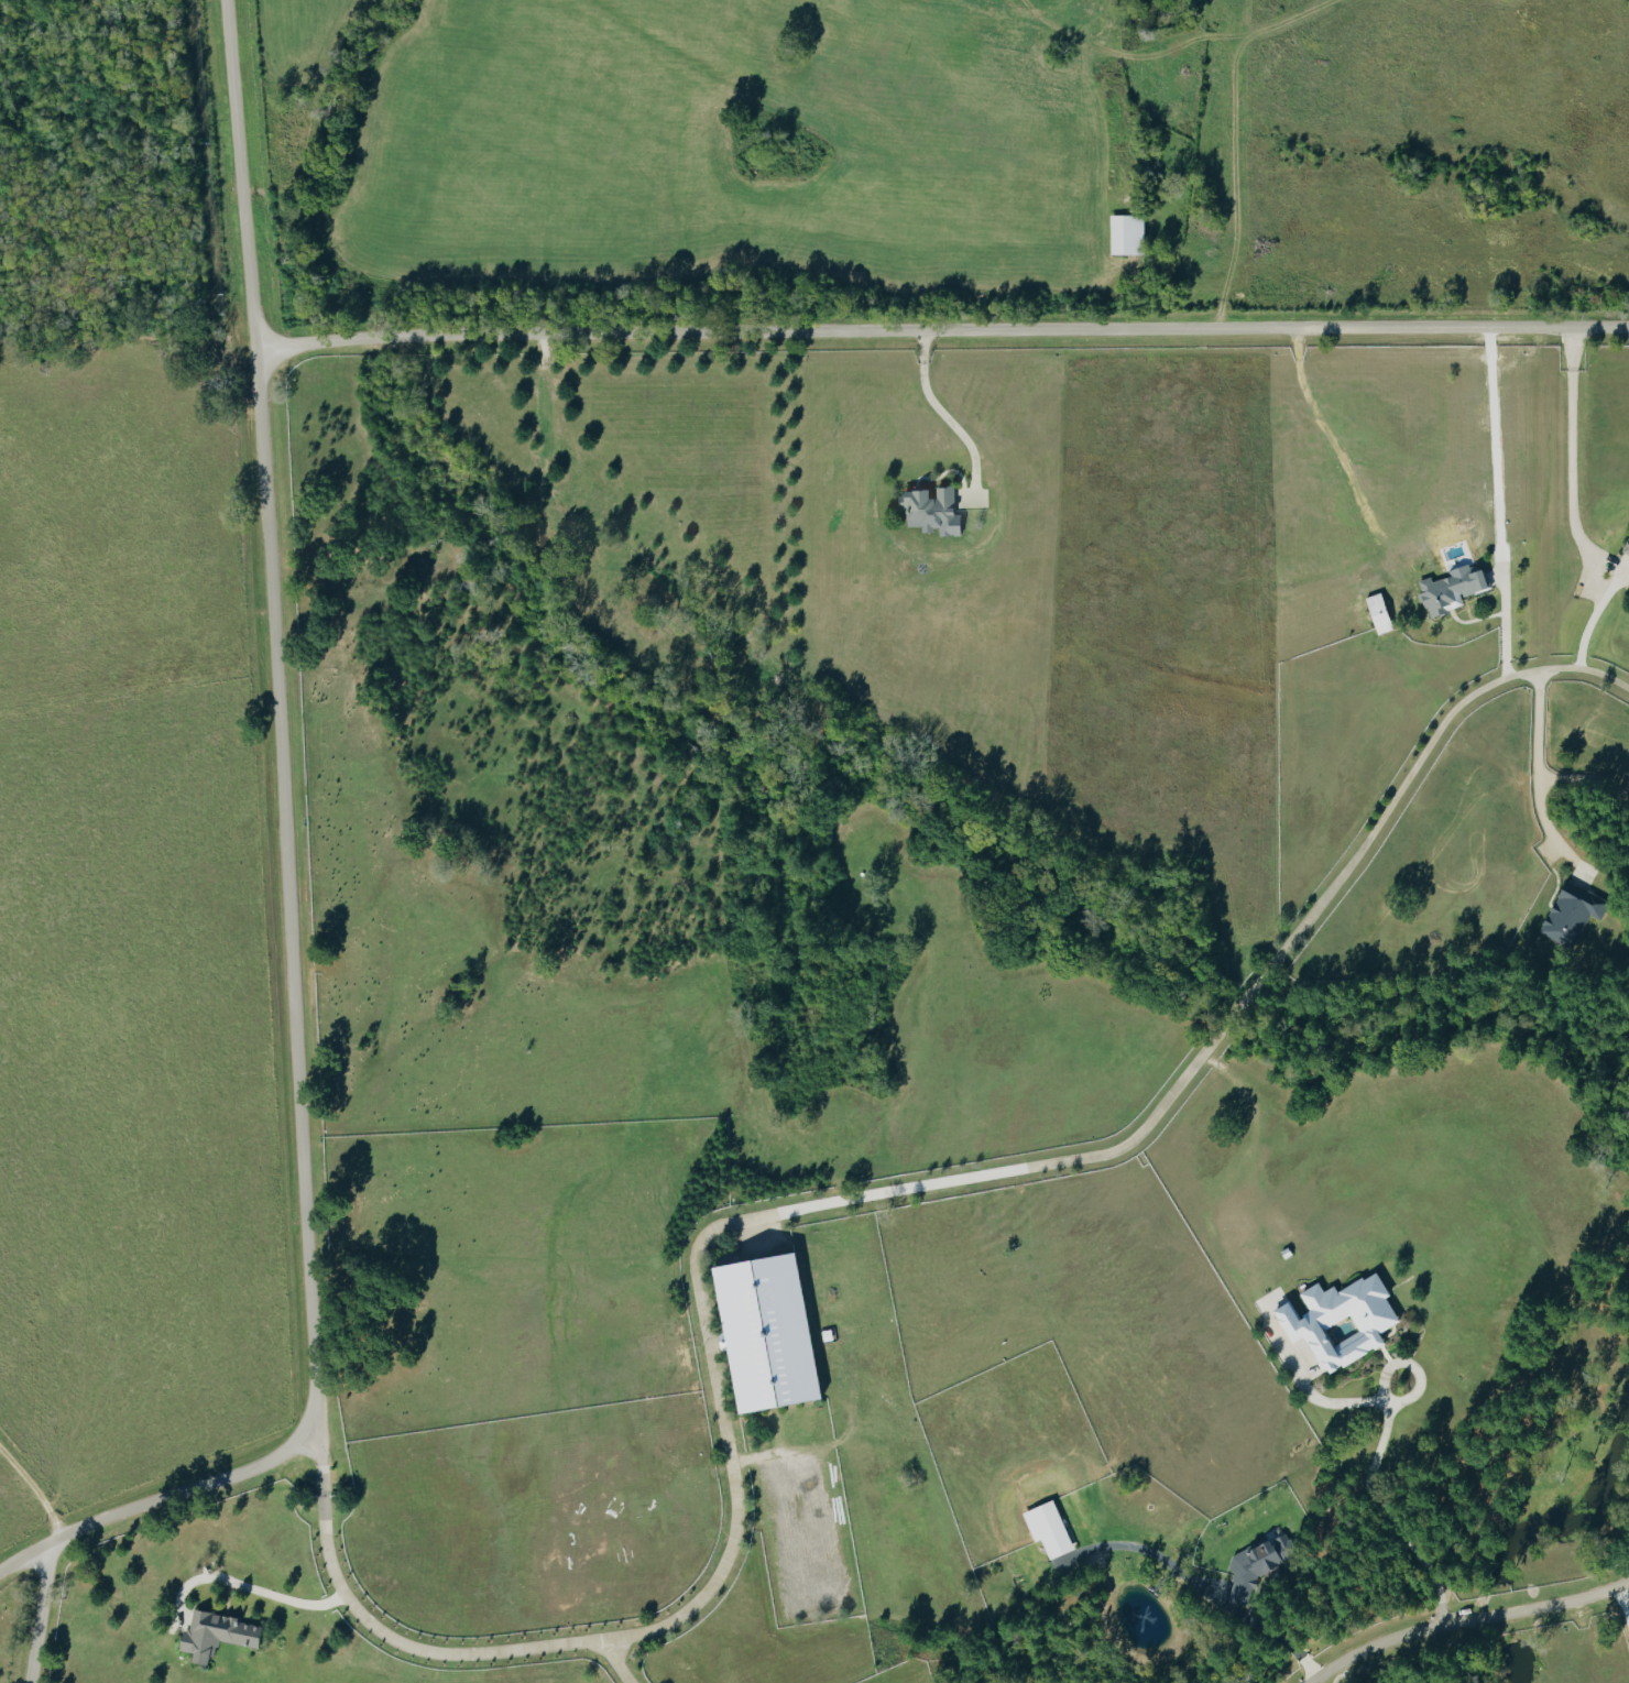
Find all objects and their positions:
road: (1089, 81)
building: (1128, 233)
road: (940, 331)
road: (945, 416)
road: (1572, 502)
building: (932, 509)
building: (1627, 548)
building: (1452, 590)
building: (1380, 612)
road: (1511, 625)
road: (1534, 775)
road: (284, 882)
building: (1573, 914)
road: (844, 1201)
building: (1343, 1321)
building: (768, 1333)
road: (138, 1345)
road: (316, 1453)
road: (1387, 1511)
building: (1049, 1529)
building: (1258, 1565)
road: (245, 1584)
road: (1218, 1597)
road: (1625, 1599)
road: (33, 1614)
road: (1465, 1619)
building: (218, 1633)
road: (615, 1661)

